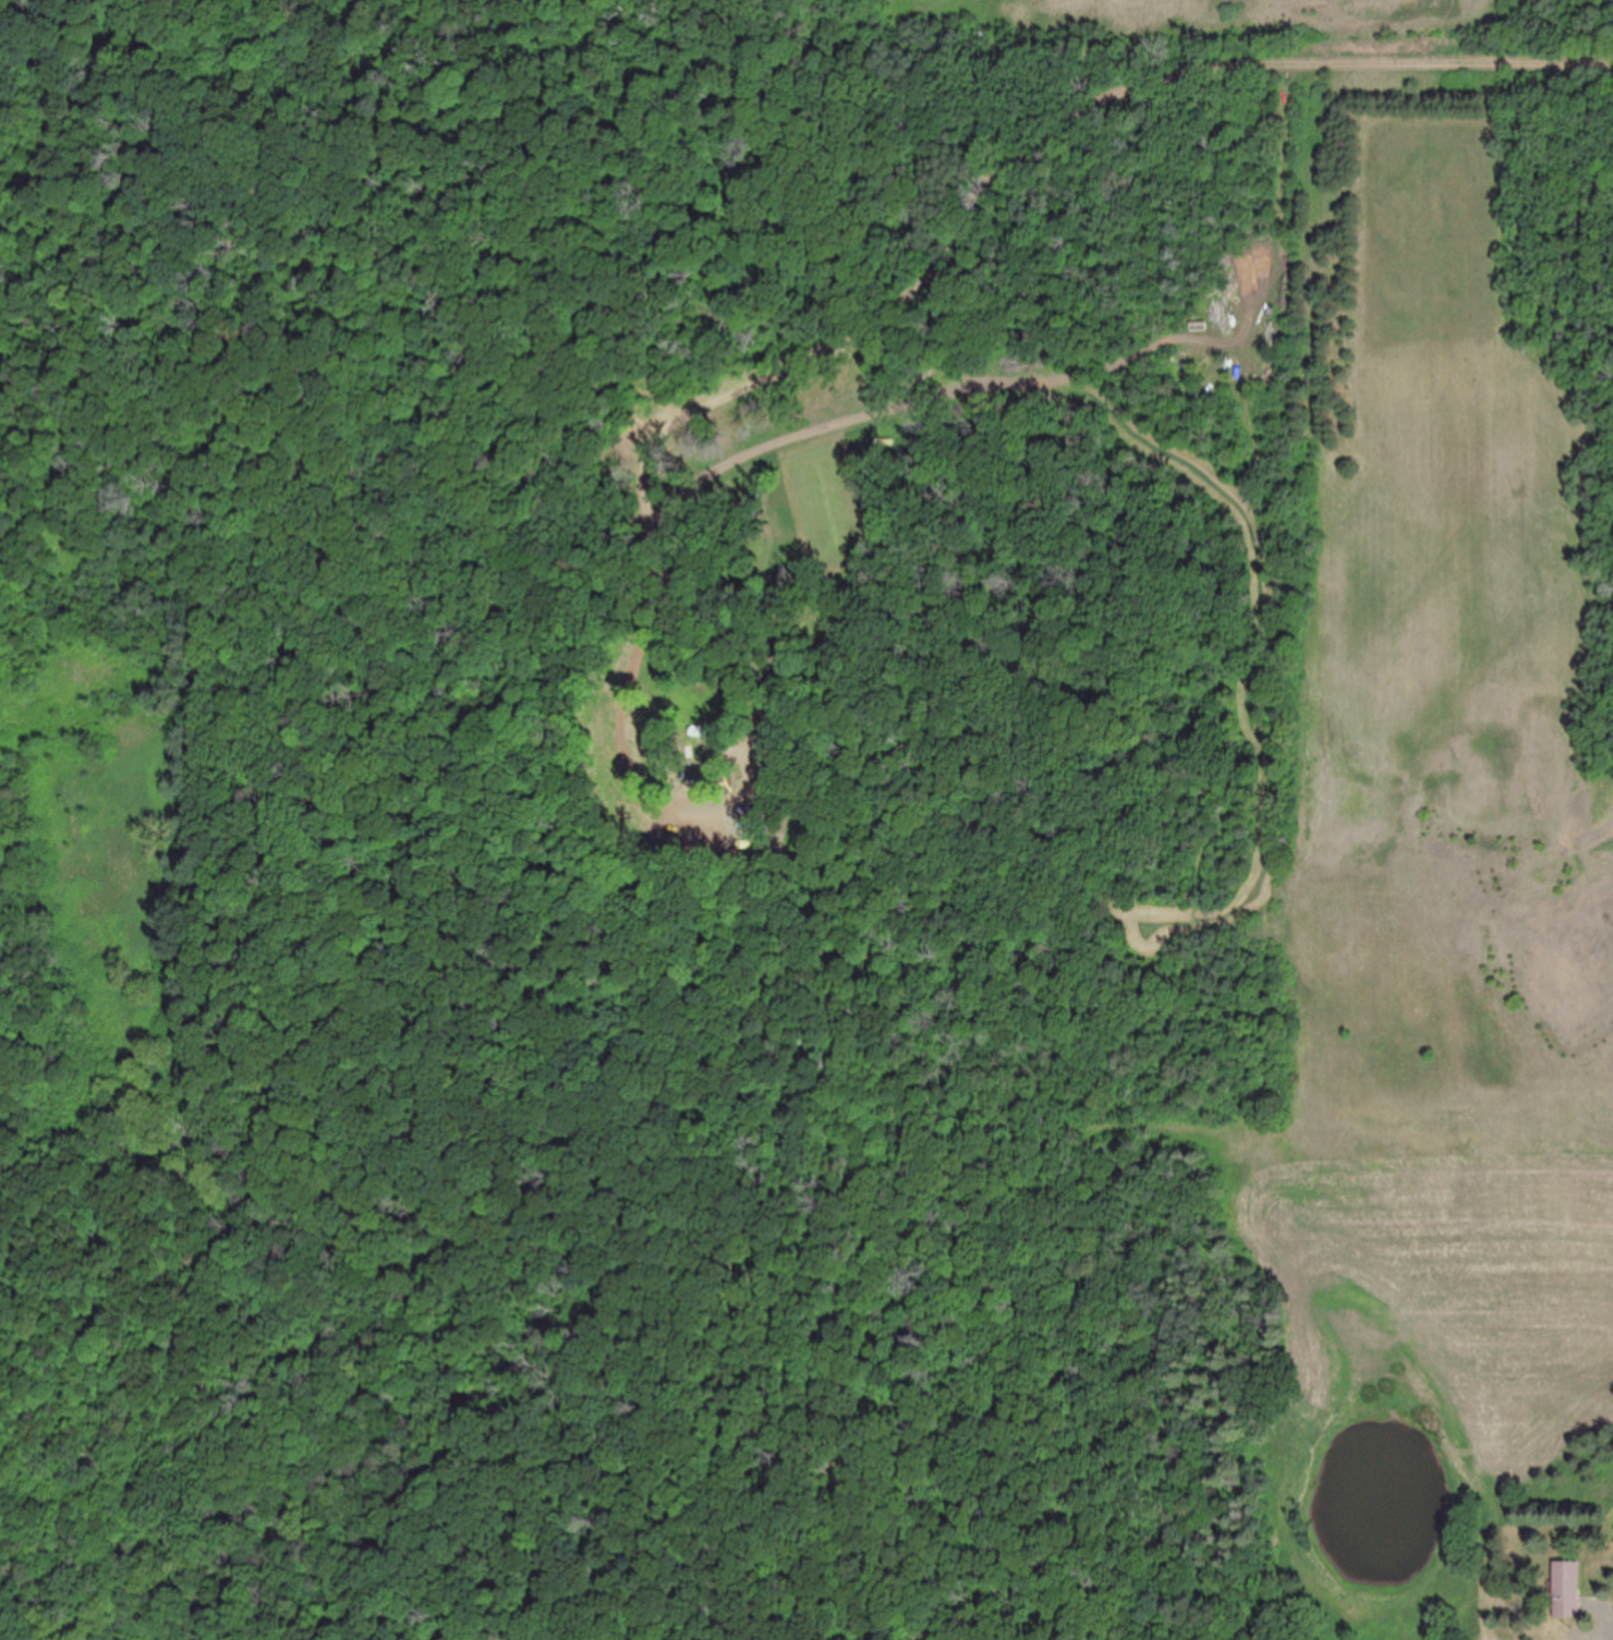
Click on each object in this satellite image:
building: (1567, 1591)

